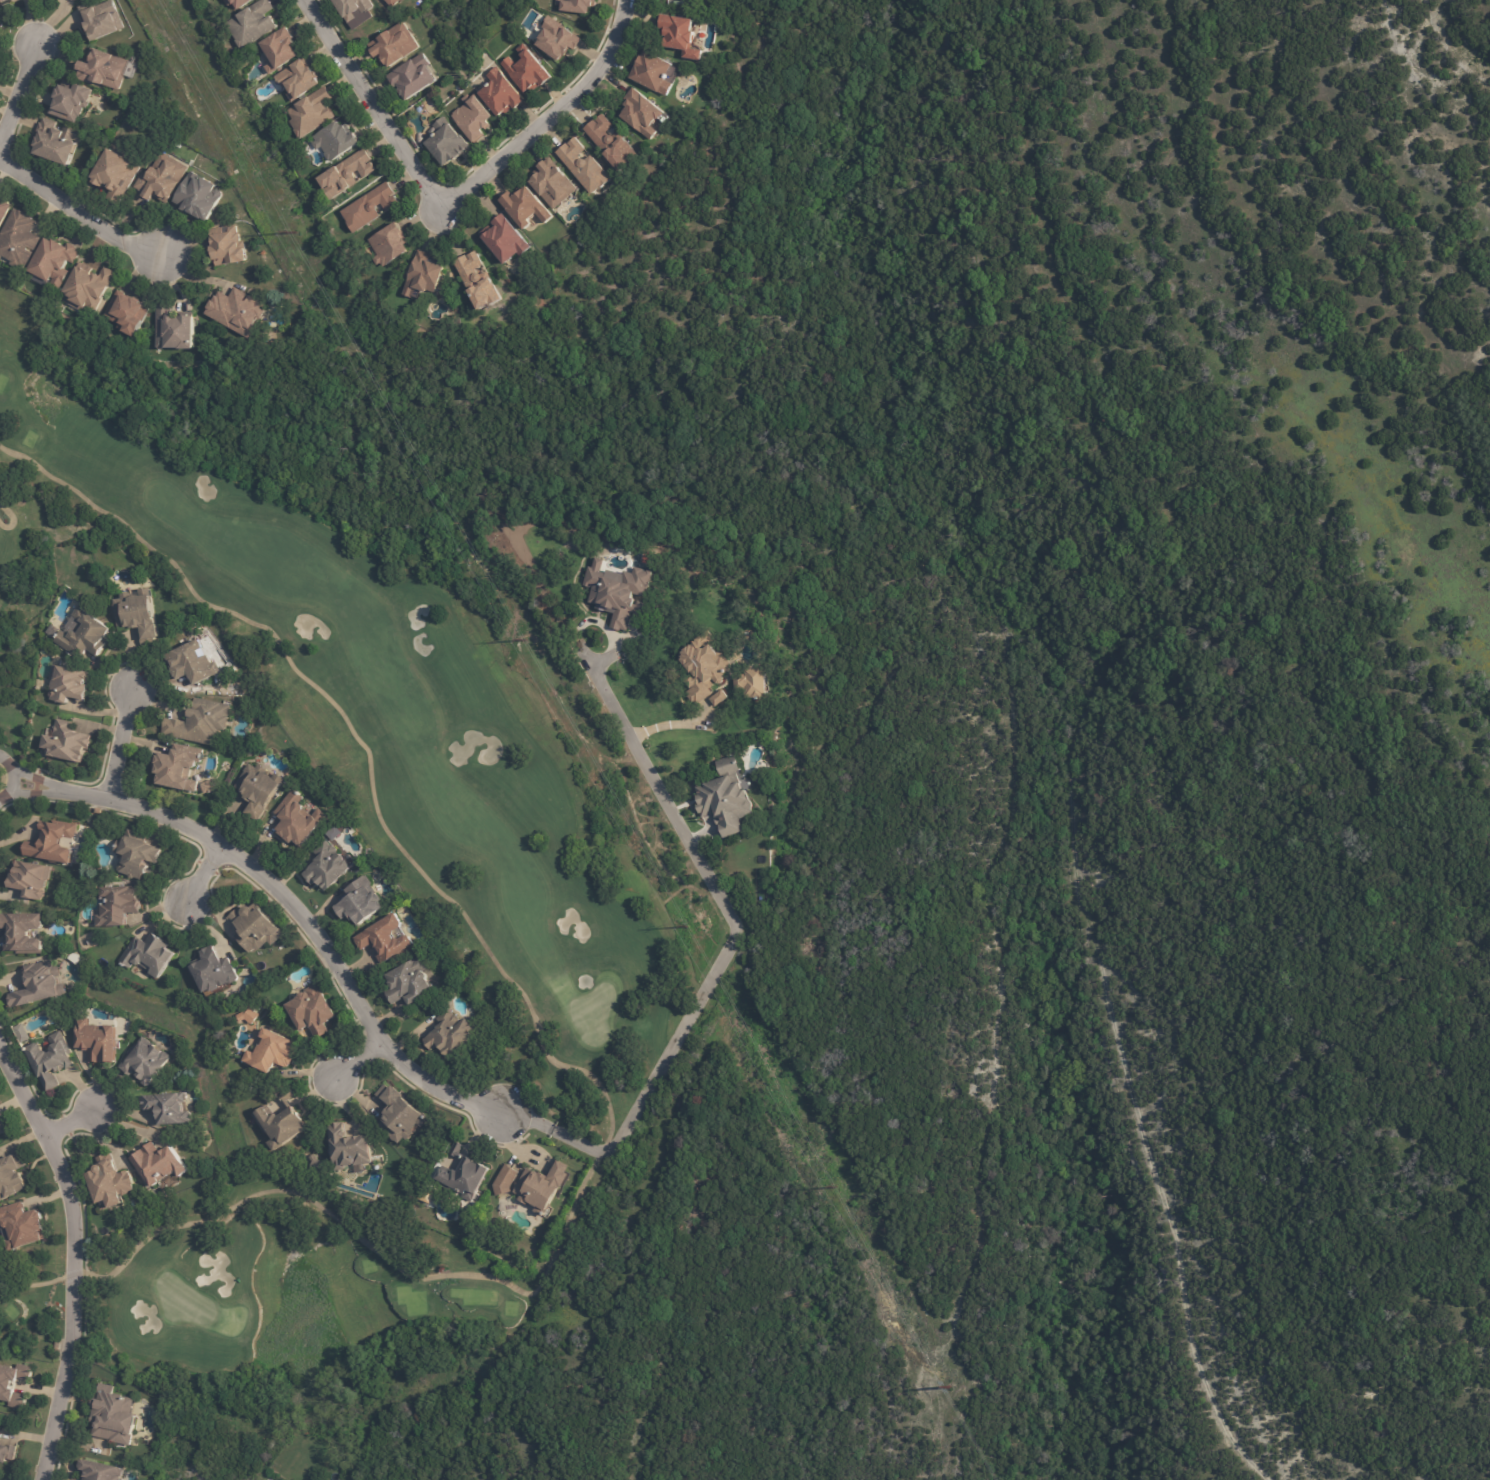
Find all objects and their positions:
building: (75, 0)
building: (5, 2)
building: (680, 2)
building: (394, 3)
building: (244, 4)
building: (578, 7)
building: (354, 8)
building: (102, 21)
building: (254, 26)
building: (682, 38)
building: (558, 41)
building: (396, 47)
building: (281, 52)
building: (104, 71)
building: (528, 72)
building: (654, 74)
building: (414, 78)
building: (299, 82)
building: (503, 95)
road: (16, 99)
building: (71, 104)
building: (313, 115)
building: (644, 115)
building: (474, 119)
building: (337, 143)
building: (57, 144)
building: (448, 145)
building: (613, 145)
building: (584, 167)
building: (349, 176)
building: (116, 178)
building: (162, 180)
building: (554, 187)
building: (200, 199)
road: (451, 201)
building: (370, 209)
building: (526, 209)
building: (4, 212)
road: (83, 228)
power tower: (293, 232)
building: (19, 242)
building: (506, 242)
building: (389, 246)
building: (228, 248)
building: (55, 265)
building: (424, 277)
building: (479, 284)
building: (90, 290)
building: (237, 314)
building: (127, 316)
building: (174, 334)
building: (621, 593)
building: (139, 612)
building: (85, 633)
power tower: (524, 639)
building: (193, 662)
building: (706, 668)
building: (743, 680)
building: (68, 683)
building: (721, 696)
park: (375, 711)
building: (201, 722)
building: (68, 742)
road: (118, 746)
building: (178, 767)
road: (12, 780)
building: (259, 787)
building: (728, 797)
building: (99, 810)
building: (297, 819)
building: (334, 834)
building: (54, 841)
building: (136, 854)
building: (328, 865)
building: (31, 877)
road: (201, 877)
building: (361, 900)
building: (118, 905)
power tower: (686, 926)
building: (255, 927)
building: (23, 931)
building: (389, 938)
building: (149, 954)
building: (214, 969)
building: (412, 981)
building: (40, 985)
building: (313, 1009)
building: (249, 1015)
building: (451, 1033)
building: (97, 1040)
building: (272, 1052)
building: (51, 1059)
building: (146, 1062)
road: (358, 1062)
building: (168, 1107)
building: (400, 1114)
road: (72, 1121)
building: (282, 1122)
building: (2, 1127)
road: (546, 1129)
building: (350, 1148)
building: (159, 1163)
building: (320, 1166)
building: (467, 1174)
building: (11, 1176)
building: (506, 1180)
building: (111, 1183)
building: (544, 1187)
power tower: (833, 1187)
building: (22, 1226)
road: (74, 1256)
park: (276, 1297)
building: (6, 1385)
power tower: (948, 1387)
building: (113, 1417)
building: (7, 1454)
building: (101, 1471)
building: (75, 1479)

